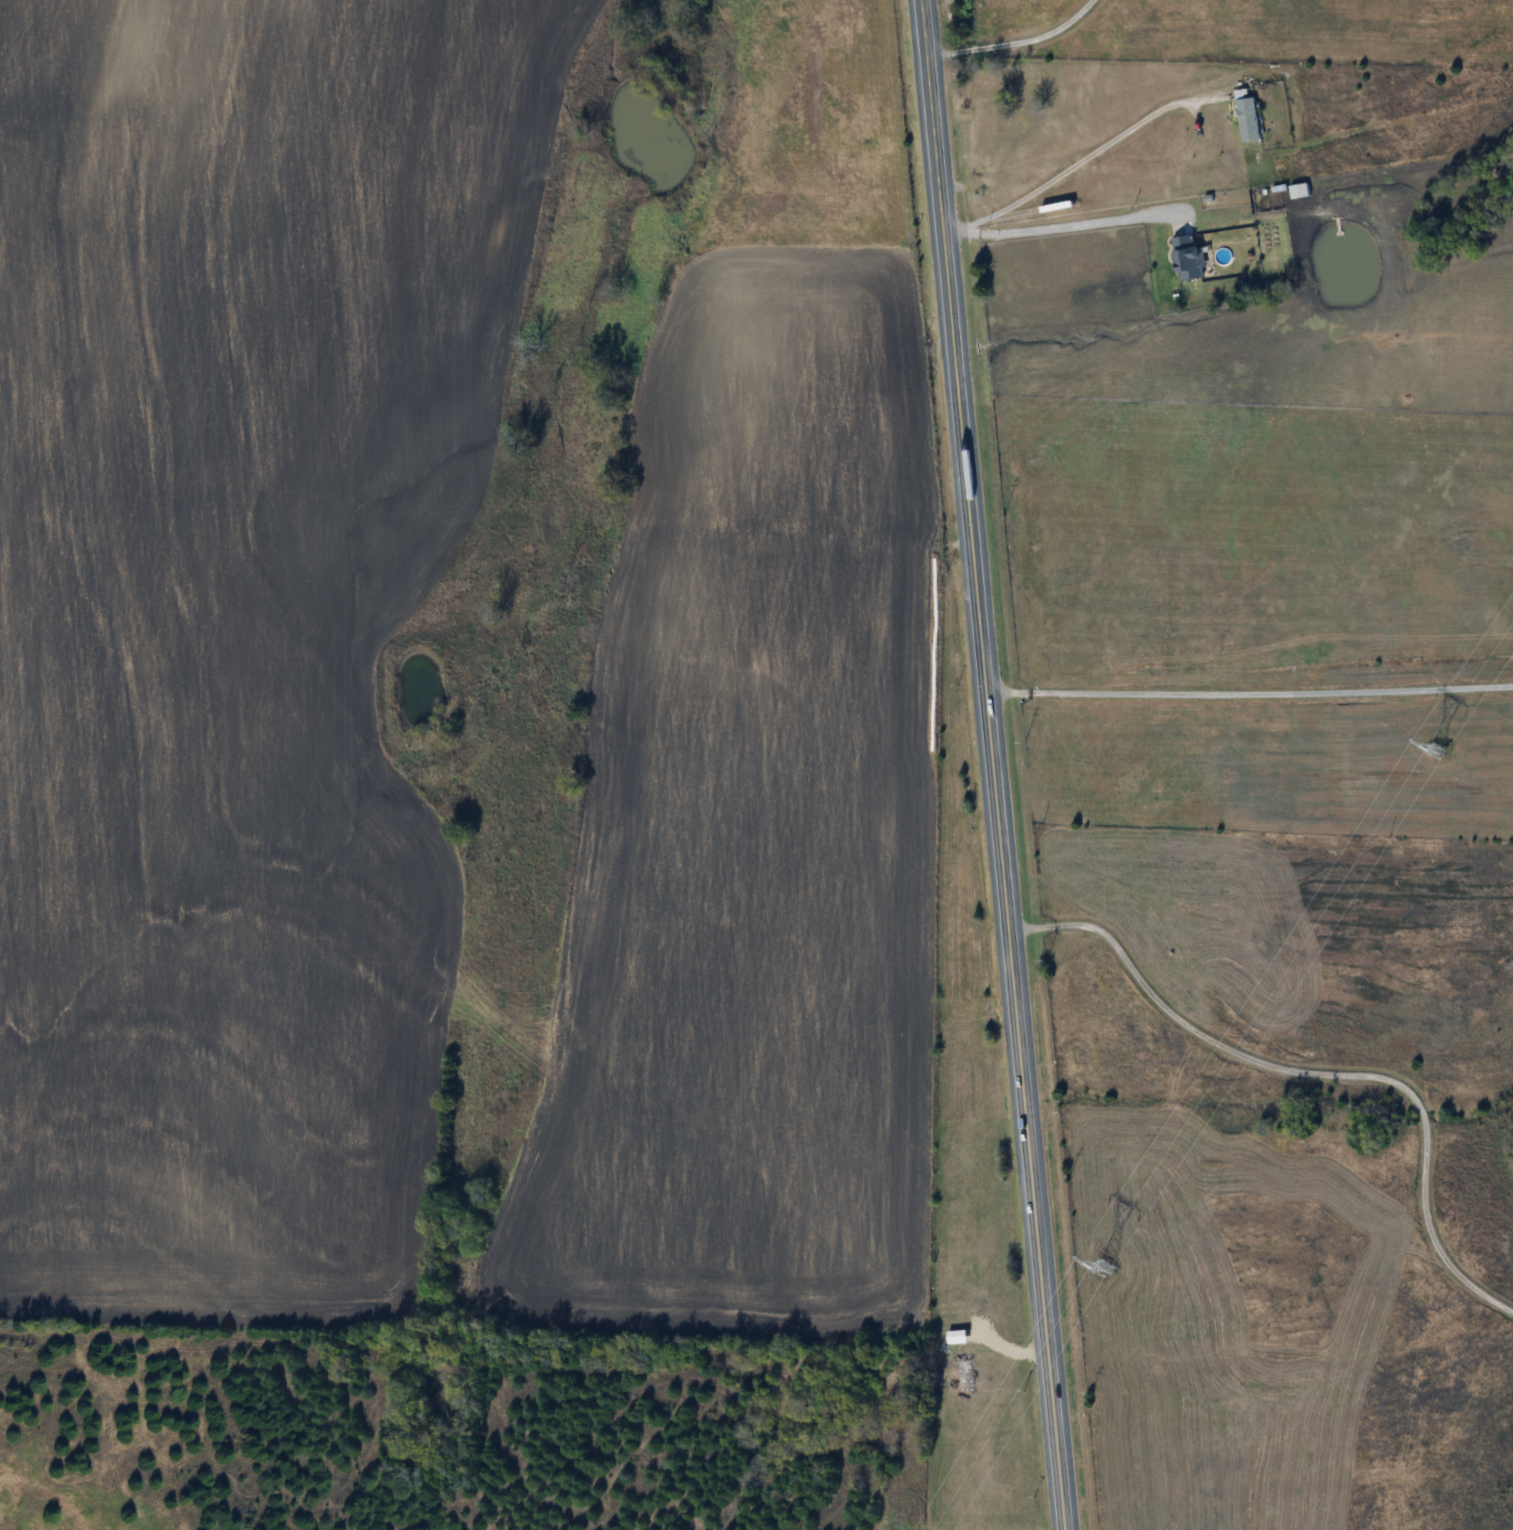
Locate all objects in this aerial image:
road: (1016, 40)
building: (1248, 118)
road: (1077, 163)
road: (1064, 225)
building: (1189, 259)
road: (1251, 691)
power tower: (1438, 747)
road: (997, 765)
road: (1317, 1071)
power tower: (1108, 1266)
road: (1008, 1352)

